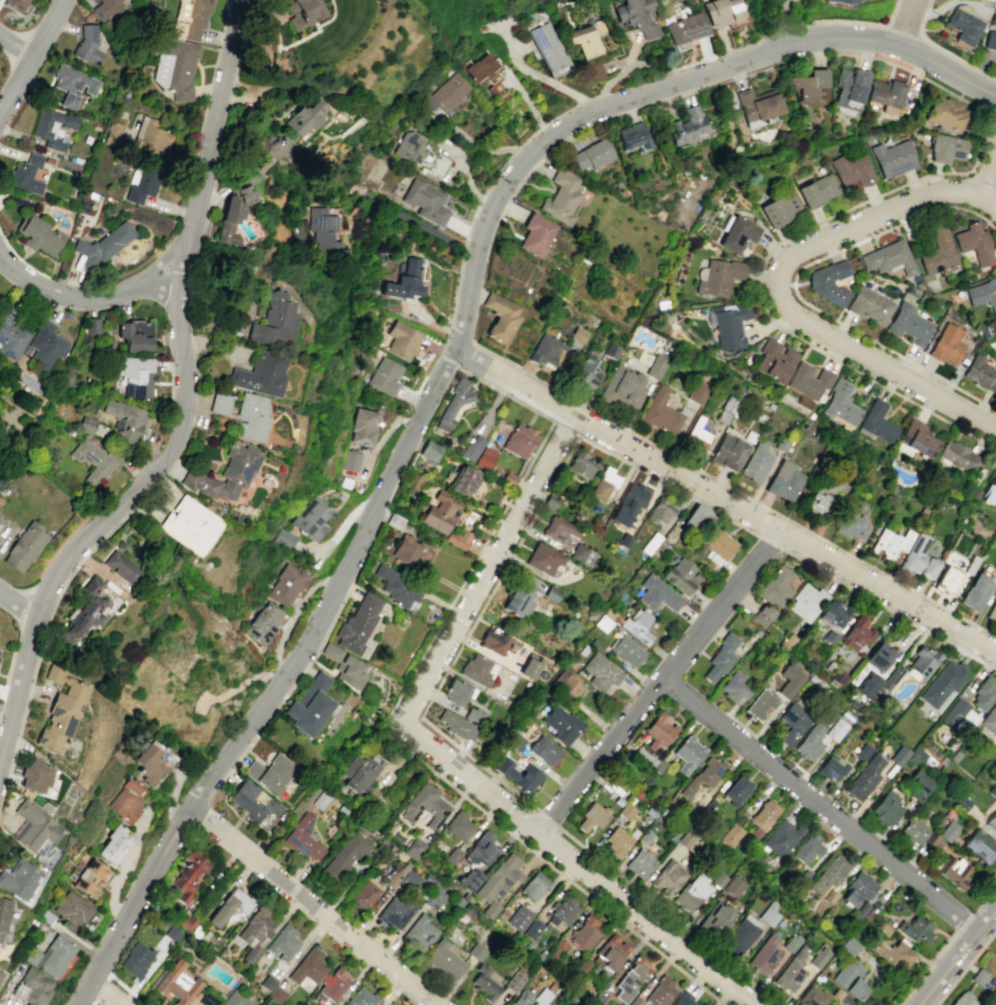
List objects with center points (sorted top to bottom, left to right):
building: (843, 0)
building: (992, 0)
building: (17, 2)
building: (106, 8)
building: (303, 12)
building: (722, 12)
building: (638, 16)
building: (191, 18)
road: (908, 23)
building: (964, 28)
building: (687, 30)
road: (787, 30)
building: (990, 41)
building: (585, 42)
road: (15, 44)
building: (87, 44)
road: (520, 47)
building: (548, 48)
road: (941, 49)
road: (632, 51)
road: (30, 55)
road: (617, 62)
building: (176, 67)
building: (485, 73)
building: (594, 73)
road: (537, 76)
road: (611, 79)
building: (72, 84)
building: (808, 84)
building: (849, 90)
building: (446, 92)
building: (886, 93)
road: (602, 95)
road: (593, 98)
road: (583, 102)
building: (757, 105)
building: (948, 109)
building: (305, 117)
road: (547, 123)
building: (687, 125)
building: (52, 127)
building: (113, 133)
building: (151, 136)
building: (633, 136)
road: (480, 146)
building: (948, 146)
road: (516, 150)
building: (420, 153)
building: (592, 155)
building: (893, 158)
building: (852, 170)
building: (26, 175)
road: (990, 177)
building: (141, 183)
building: (817, 190)
building: (247, 194)
building: (560, 196)
road: (866, 200)
building: (427, 201)
road: (990, 202)
building: (780, 208)
road: (993, 216)
road: (988, 220)
building: (229, 221)
building: (296, 226)
road: (419, 226)
building: (325, 231)
building: (535, 234)
building: (738, 234)
building: (39, 235)
building: (974, 243)
building: (939, 250)
road: (162, 257)
building: (888, 258)
building: (717, 277)
building: (406, 282)
road: (772, 282)
building: (828, 282)
road: (790, 284)
road: (456, 286)
road: (793, 286)
building: (983, 294)
road: (83, 296)
road: (781, 297)
building: (869, 305)
building: (500, 317)
building: (276, 322)
building: (909, 323)
building: (730, 325)
building: (91, 326)
building: (994, 329)
building: (11, 333)
building: (135, 335)
building: (579, 335)
building: (403, 339)
building: (946, 345)
building: (44, 348)
building: (546, 351)
road: (465, 354)
building: (774, 360)
building: (656, 365)
road: (443, 367)
building: (588, 370)
building: (981, 372)
building: (262, 374)
building: (135, 376)
building: (387, 376)
road: (478, 378)
building: (809, 379)
building: (623, 388)
road: (500, 391)
building: (697, 392)
building: (220, 402)
building: (453, 403)
building: (841, 403)
road: (493, 405)
road: (187, 407)
building: (661, 412)
building: (252, 418)
building: (124, 420)
building: (877, 423)
building: (86, 426)
building: (363, 426)
road: (564, 429)
building: (697, 435)
building: (520, 440)
building: (916, 440)
building: (473, 448)
building: (429, 450)
building: (728, 452)
building: (956, 456)
building: (486, 458)
building: (94, 460)
building: (352, 460)
building: (756, 462)
building: (581, 464)
building: (224, 474)
building: (464, 480)
building: (784, 481)
building: (604, 484)
road: (733, 490)
building: (991, 492)
building: (818, 498)
road: (724, 501)
building: (629, 503)
building: (660, 511)
building: (442, 512)
building: (313, 518)
building: (697, 519)
building: (394, 521)
building: (190, 525)
road: (342, 525)
building: (853, 526)
building: (559, 529)
building: (460, 537)
building: (287, 538)
road: (769, 542)
building: (890, 543)
building: (718, 544)
building: (24, 546)
building: (409, 551)
road: (511, 552)
building: (582, 554)
building: (543, 558)
building: (919, 558)
road: (488, 563)
building: (121, 567)
building: (995, 568)
building: (681, 575)
building: (947, 580)
building: (285, 584)
building: (397, 586)
building: (776, 586)
building: (975, 591)
building: (657, 594)
building: (519, 599)
building: (806, 602)
road: (17, 605)
road: (889, 609)
building: (992, 611)
building: (86, 612)
building: (834, 613)
building: (762, 615)
road: (289, 616)
building: (262, 623)
building: (0, 624)
building: (359, 624)
building: (637, 625)
building: (857, 634)
building: (494, 642)
building: (626, 650)
building: (331, 651)
building: (879, 656)
building: (720, 658)
building: (922, 662)
building: (530, 666)
building: (478, 669)
building: (351, 671)
building: (601, 672)
building: (893, 675)
road: (659, 680)
building: (789, 680)
building: (566, 682)
building: (868, 684)
road: (236, 686)
building: (736, 687)
building: (457, 693)
building: (983, 694)
building: (308, 705)
building: (759, 705)
building: (61, 709)
building: (960, 716)
building: (990, 719)
building: (793, 722)
building: (561, 724)
building: (458, 726)
building: (835, 730)
building: (660, 732)
road: (394, 738)
building: (809, 743)
building: (544, 749)
building: (688, 753)
building: (641, 754)
building: (899, 755)
building: (995, 755)
building: (153, 762)
building: (831, 768)
building: (359, 772)
building: (271, 773)
building: (519, 774)
building: (36, 775)
building: (703, 775)
building: (864, 777)
building: (917, 784)
building: (736, 790)
building: (127, 800)
building: (252, 801)
road: (173, 802)
road: (819, 804)
building: (426, 806)
building: (885, 808)
building: (592, 817)
building: (762, 817)
road: (546, 818)
building: (991, 821)
building: (33, 826)
building: (459, 826)
building: (948, 830)
building: (913, 831)
building: (731, 835)
building: (781, 837)
building: (932, 838)
building: (304, 839)
building: (617, 842)
building: (115, 845)
building: (981, 846)
building: (414, 848)
building: (481, 849)
building: (808, 849)
building: (346, 855)
road: (575, 859)
building: (640, 863)
road: (123, 869)
building: (954, 870)
building: (829, 873)
building: (190, 874)
building: (18, 878)
building: (92, 878)
building: (668, 878)
building: (470, 879)
building: (498, 883)
building: (534, 886)
building: (733, 886)
building: (858, 889)
building: (691, 893)
building: (365, 894)
building: (436, 898)
road: (984, 899)
road: (312, 905)
building: (231, 906)
building: (72, 911)
building: (562, 911)
building: (395, 912)
building: (4, 913)
road: (667, 915)
building: (768, 916)
building: (519, 918)
building: (716, 918)
building: (185, 921)
road: (964, 922)
building: (914, 928)
building: (532, 929)
building: (256, 931)
building: (420, 933)
building: (585, 933)
building: (173, 934)
building: (740, 935)
building: (284, 944)
building: (790, 945)
building: (849, 945)
building: (476, 952)
building: (609, 954)
building: (894, 954)
building: (765, 955)
building: (51, 956)
road: (957, 956)
building: (819, 957)
building: (136, 959)
building: (444, 959)
road: (964, 966)
building: (309, 967)
road: (928, 969)
building: (791, 971)
building: (0, 972)
building: (849, 978)
building: (631, 979)
building: (485, 981)
building: (514, 981)
building: (178, 984)
building: (334, 984)
building: (36, 986)
road: (126, 988)
road: (100, 989)
building: (273, 990)
road: (107, 992)
building: (660, 993)
building: (812, 996)
building: (362, 997)
building: (520, 998)
building: (207, 999)
building: (235, 999)
building: (963, 999)
building: (541, 1000)
building: (685, 1000)
building: (845, 1001)
road: (92, 1003)
building: (836, 1003)

